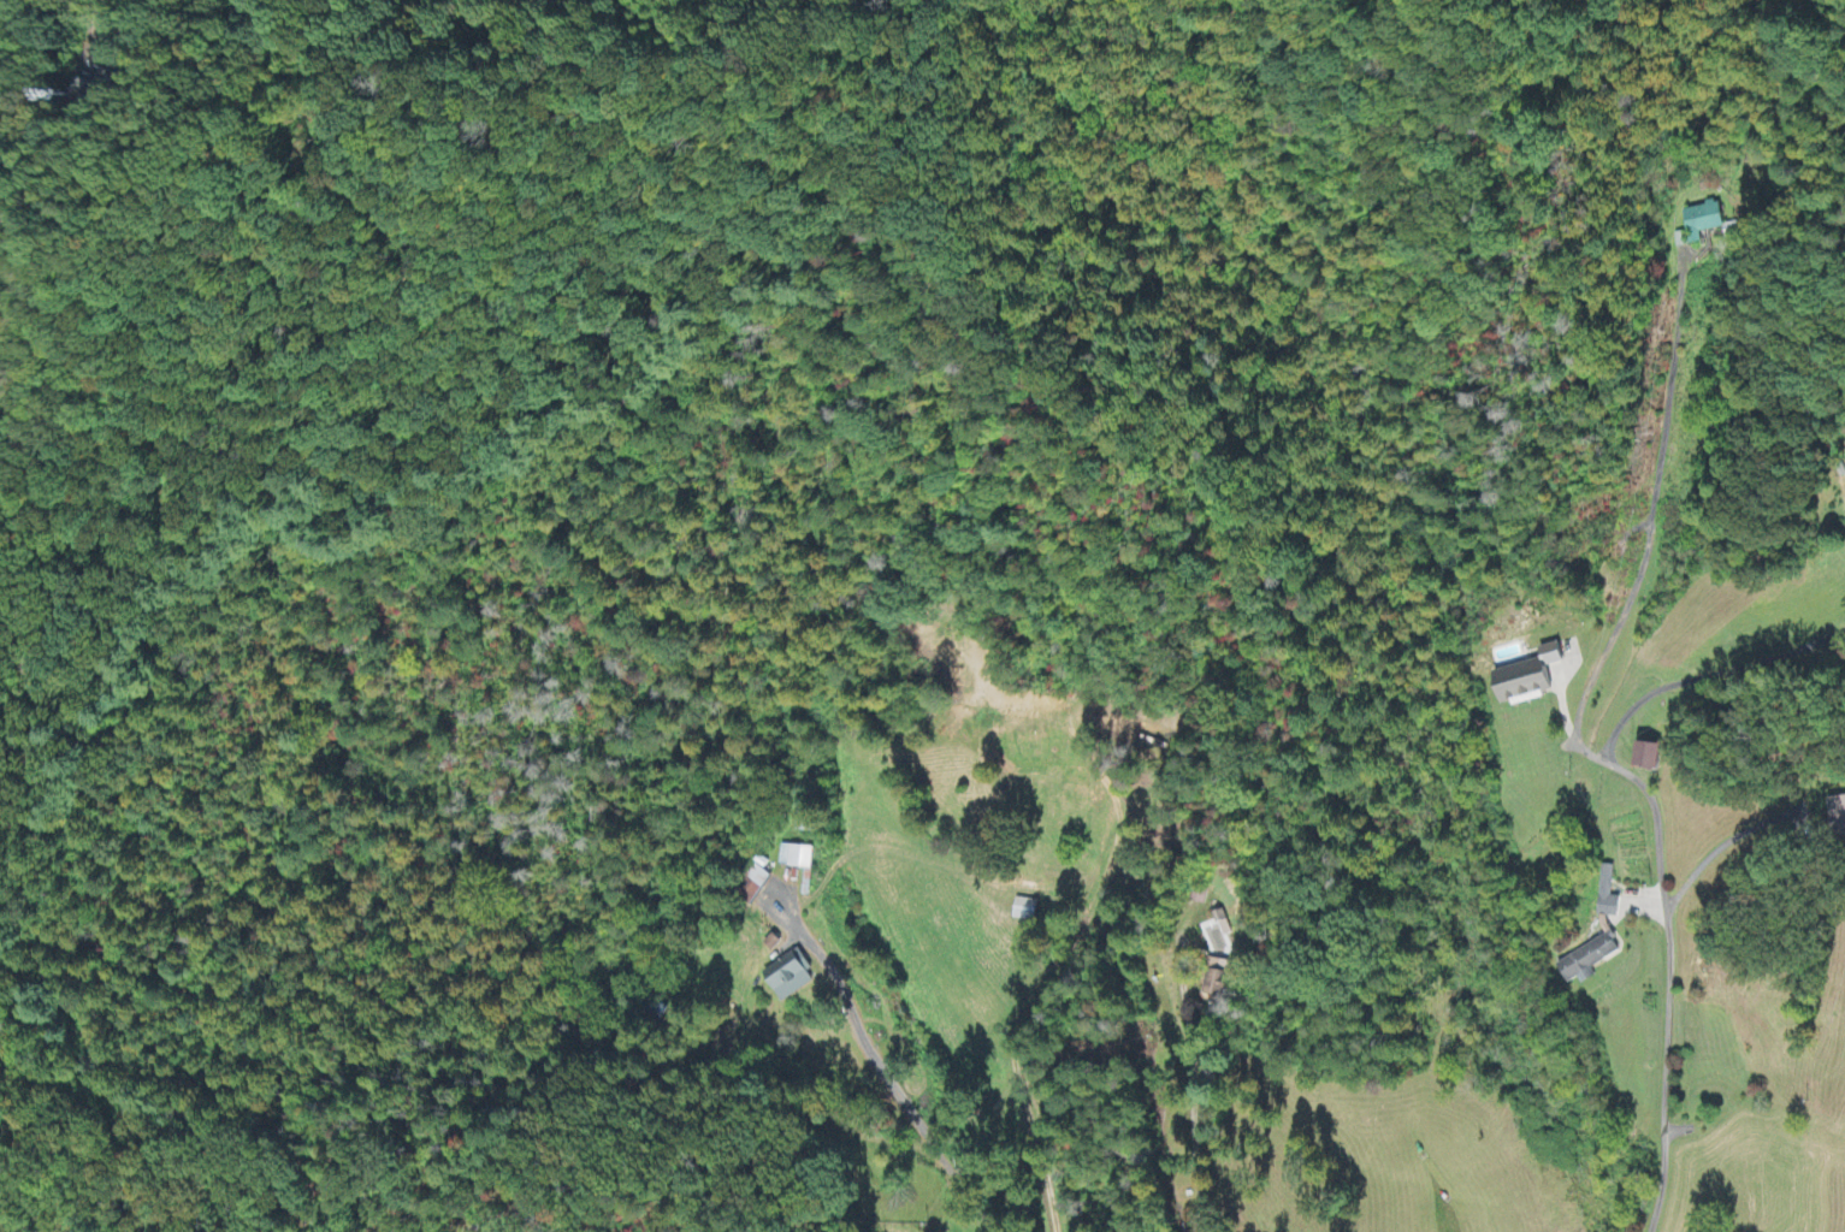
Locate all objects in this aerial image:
road: (95, 6)
building: (1708, 223)
building: (1680, 242)
building: (1532, 679)
road: (1597, 754)
building: (1652, 759)
building: (1837, 811)
building: (798, 858)
building: (752, 883)
building: (1609, 895)
building: (1028, 911)
building: (1590, 962)
building: (792, 978)
building: (1219, 979)
road: (903, 1083)
road: (1196, 1104)

